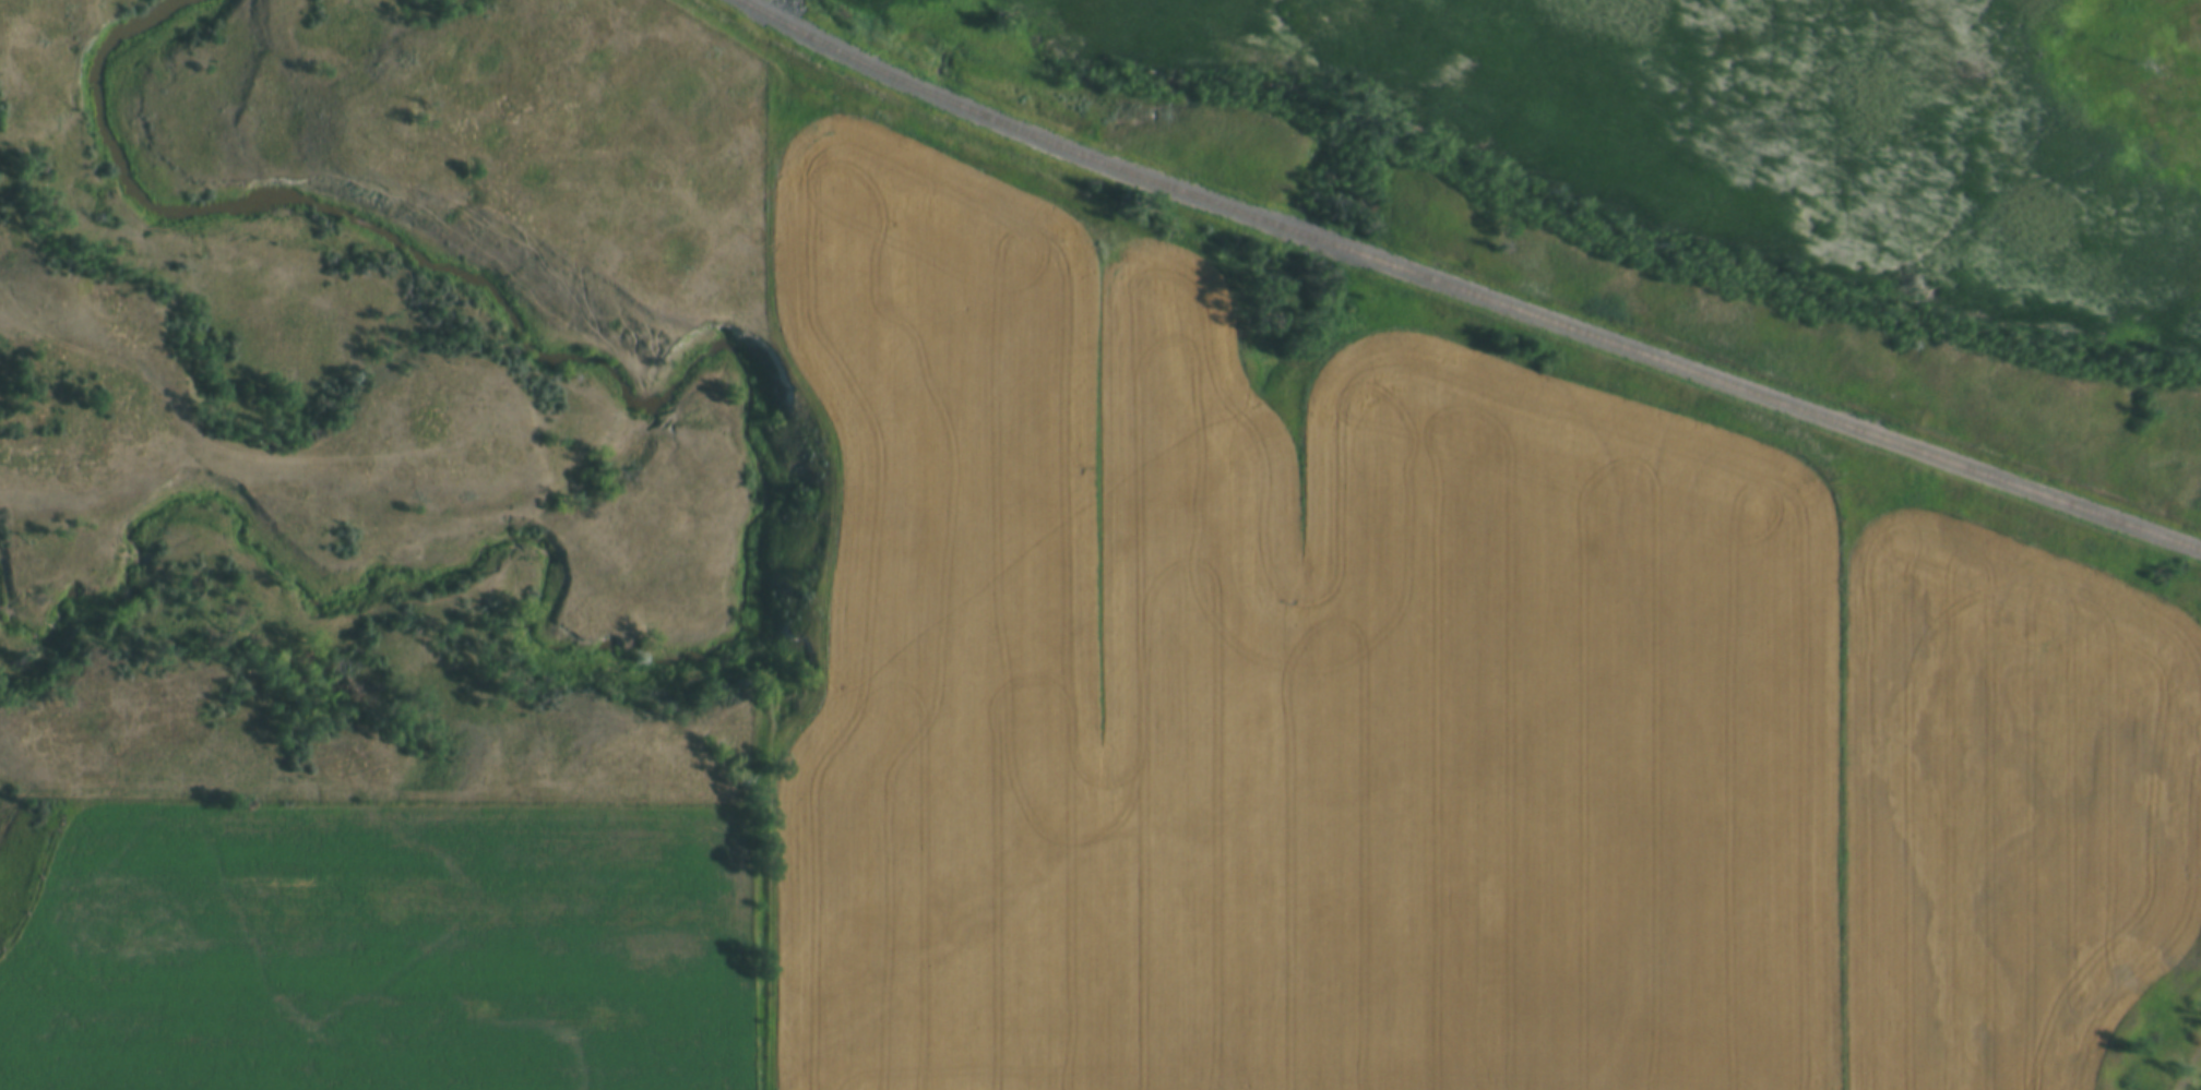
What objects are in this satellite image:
railway: (1465, 289)
road: (59, 754)

